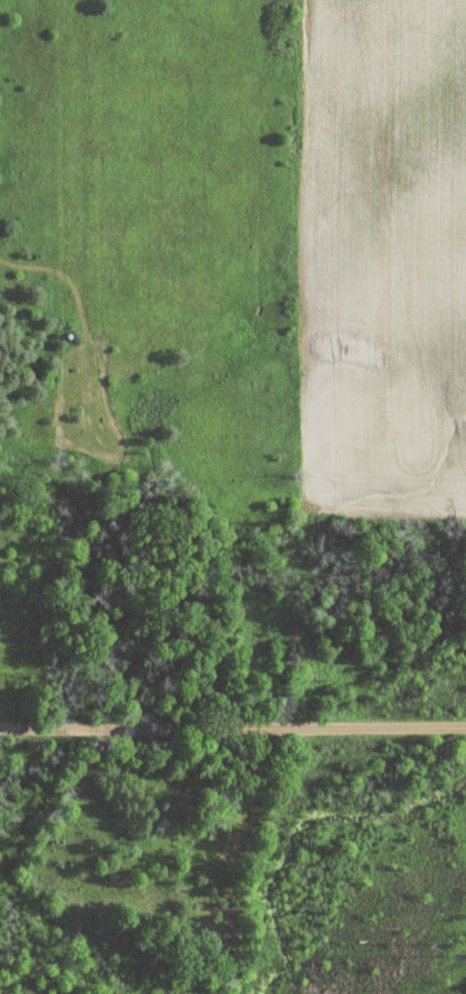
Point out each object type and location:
road: (232, 728)

